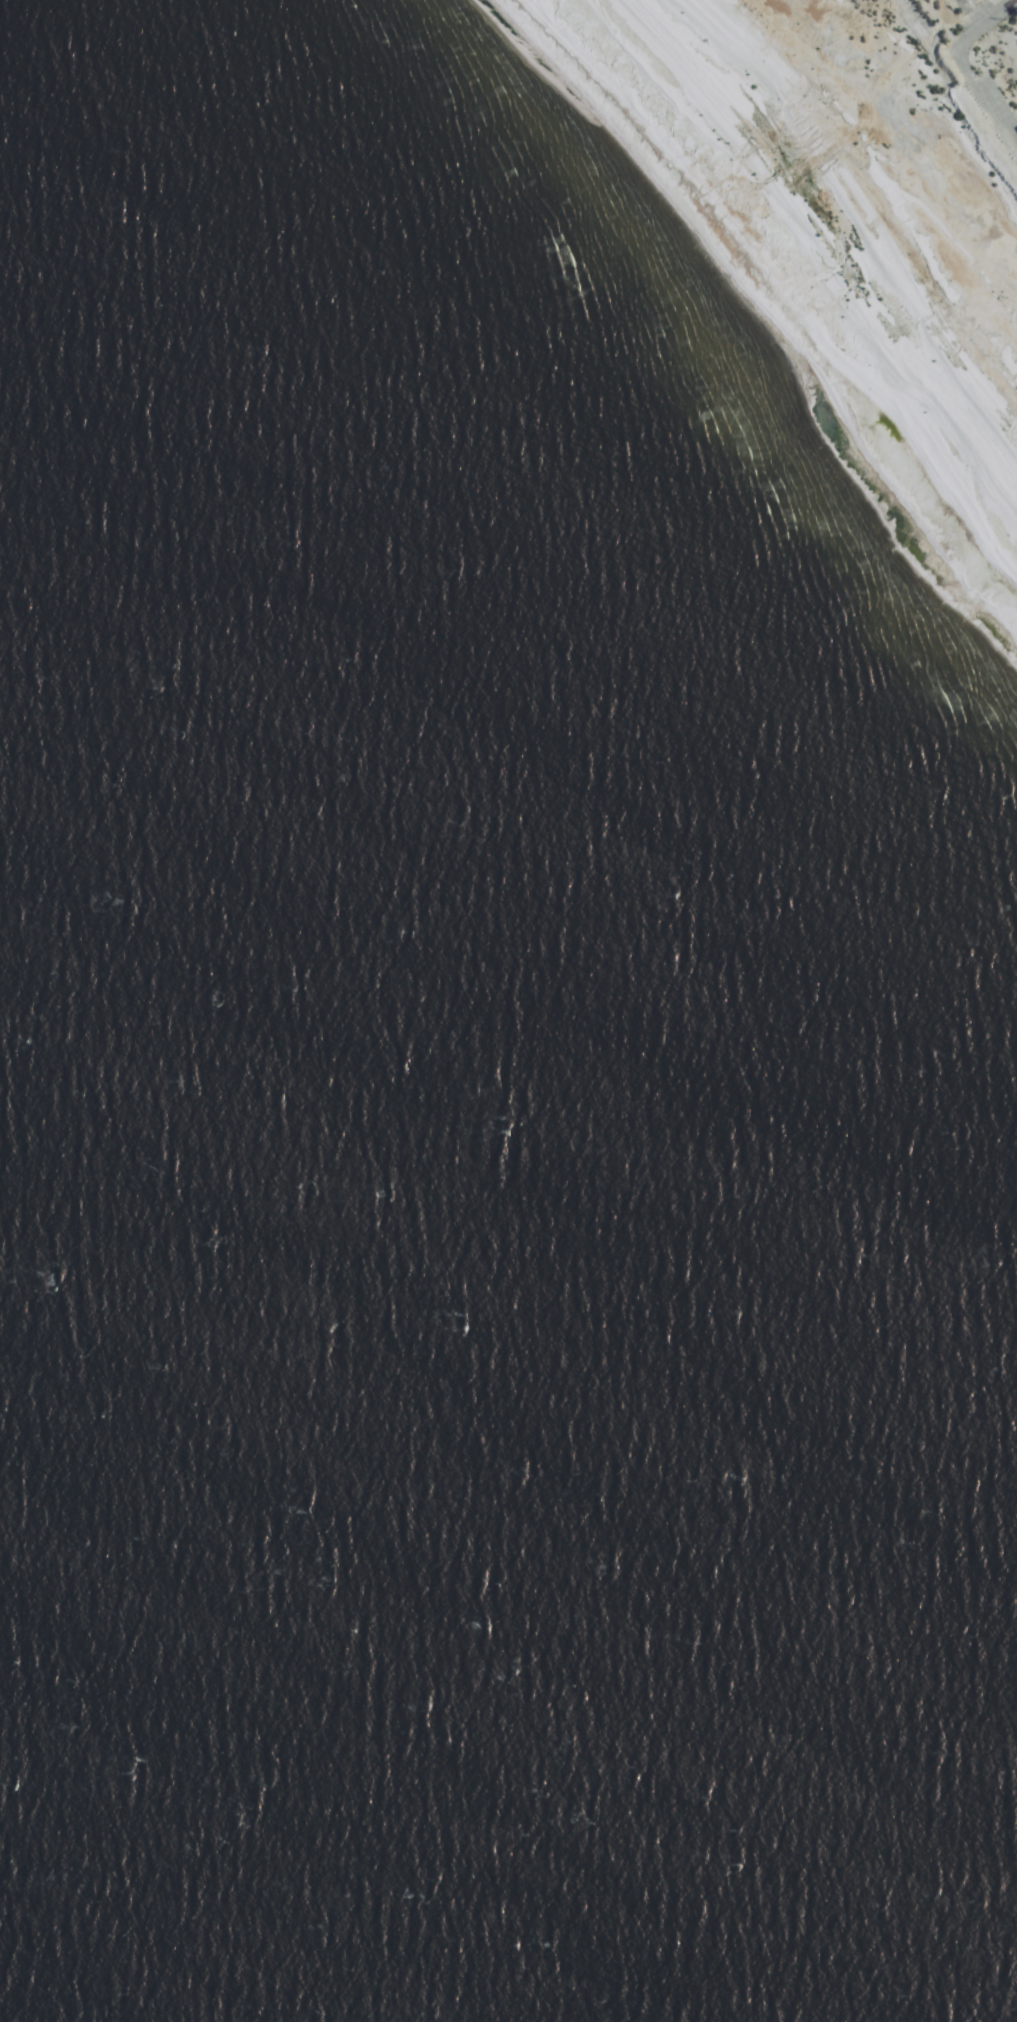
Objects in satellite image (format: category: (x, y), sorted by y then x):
road: (979, 24)
road: (983, 101)

